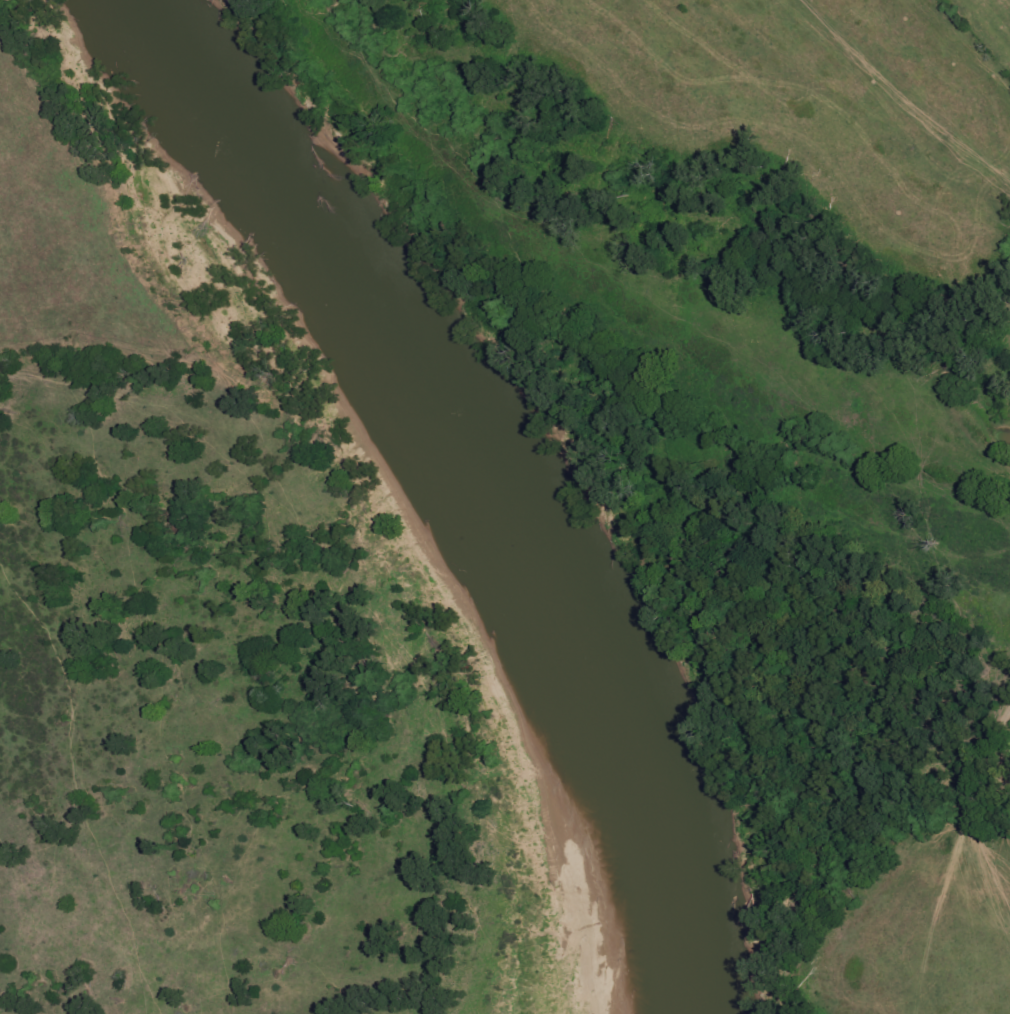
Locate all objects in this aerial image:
river: (372, 282)
river: (642, 787)

